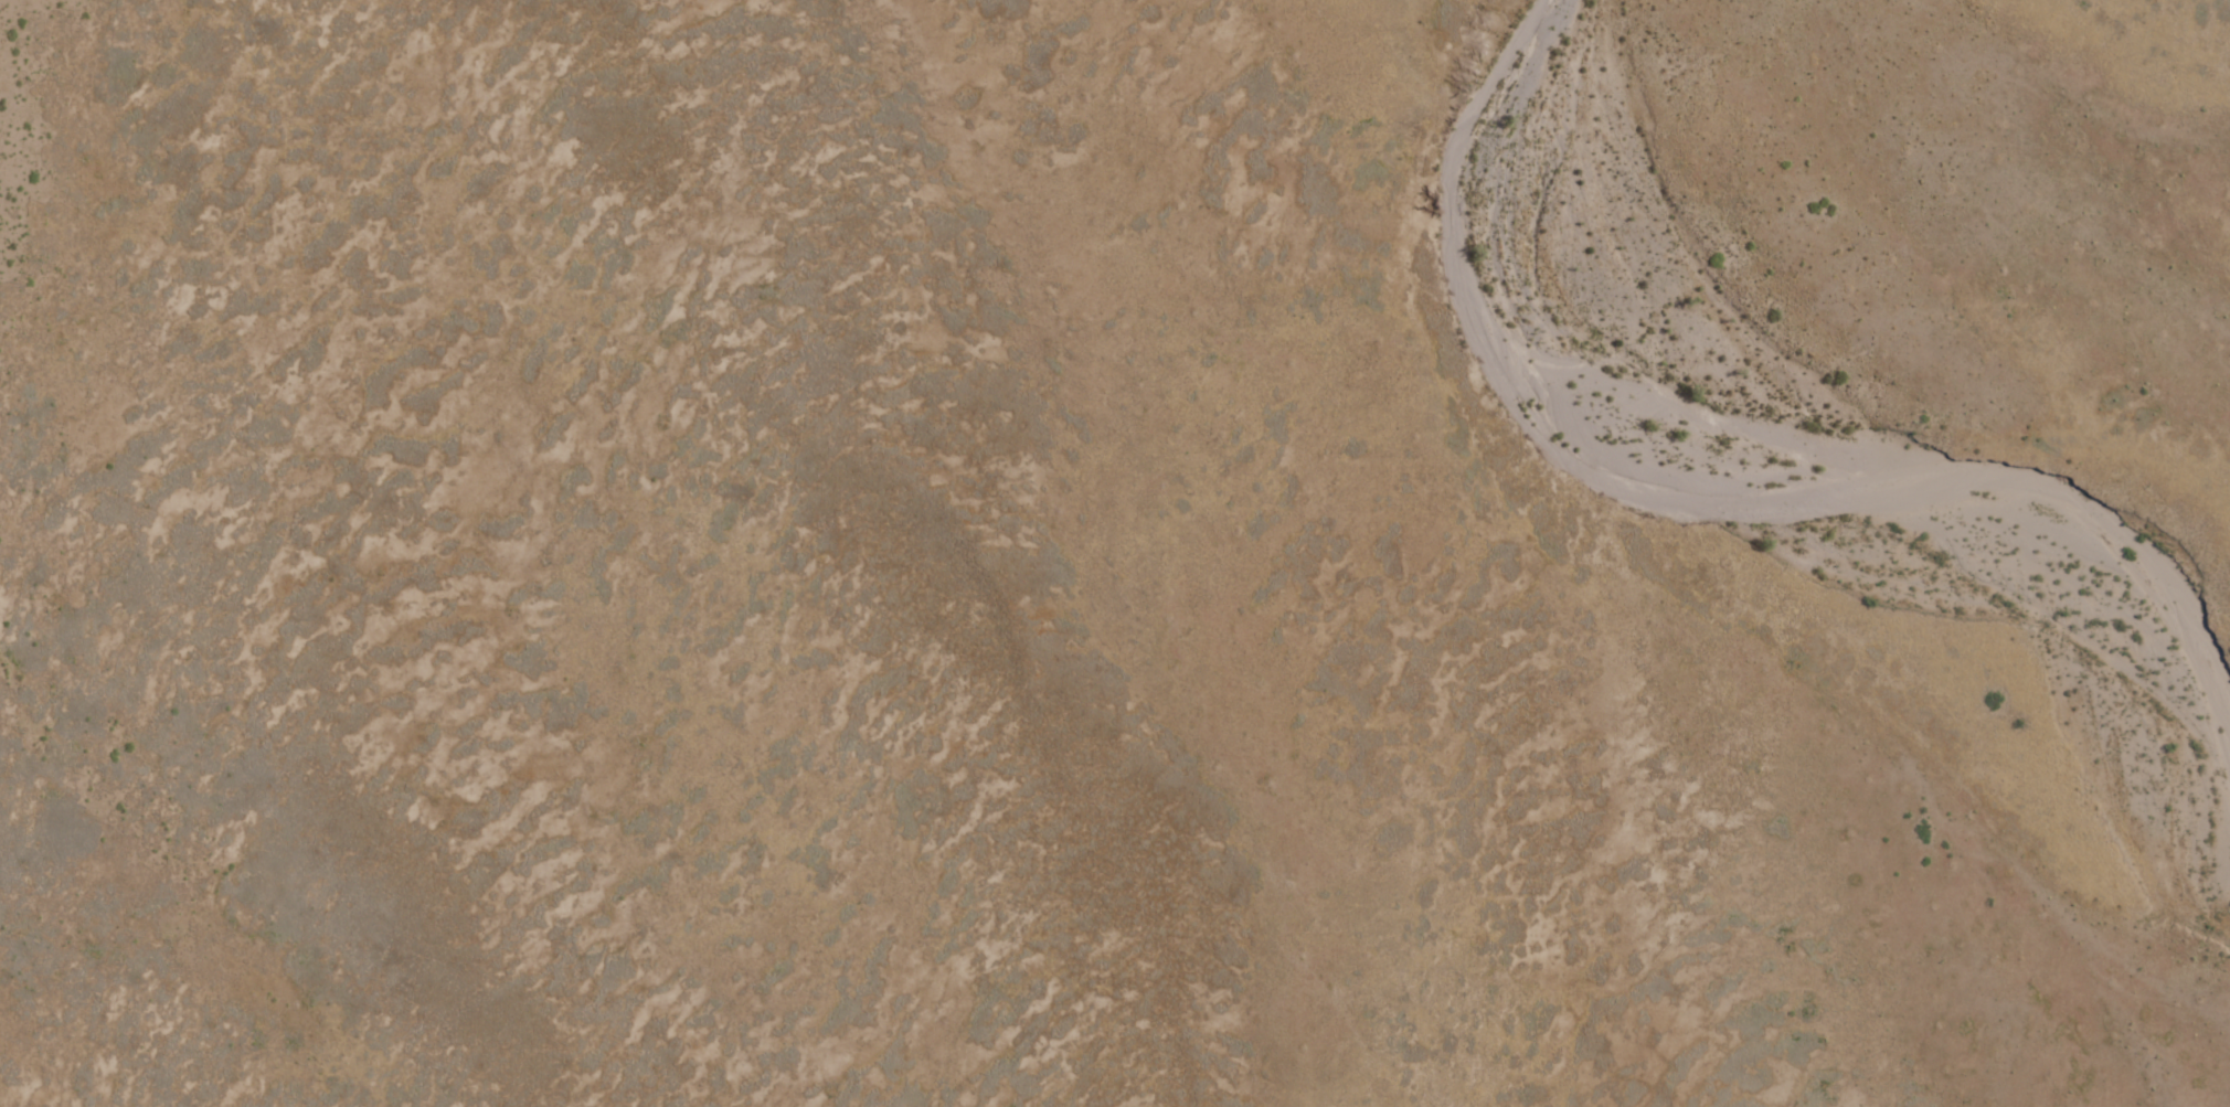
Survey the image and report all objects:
river: (1850, 477)

